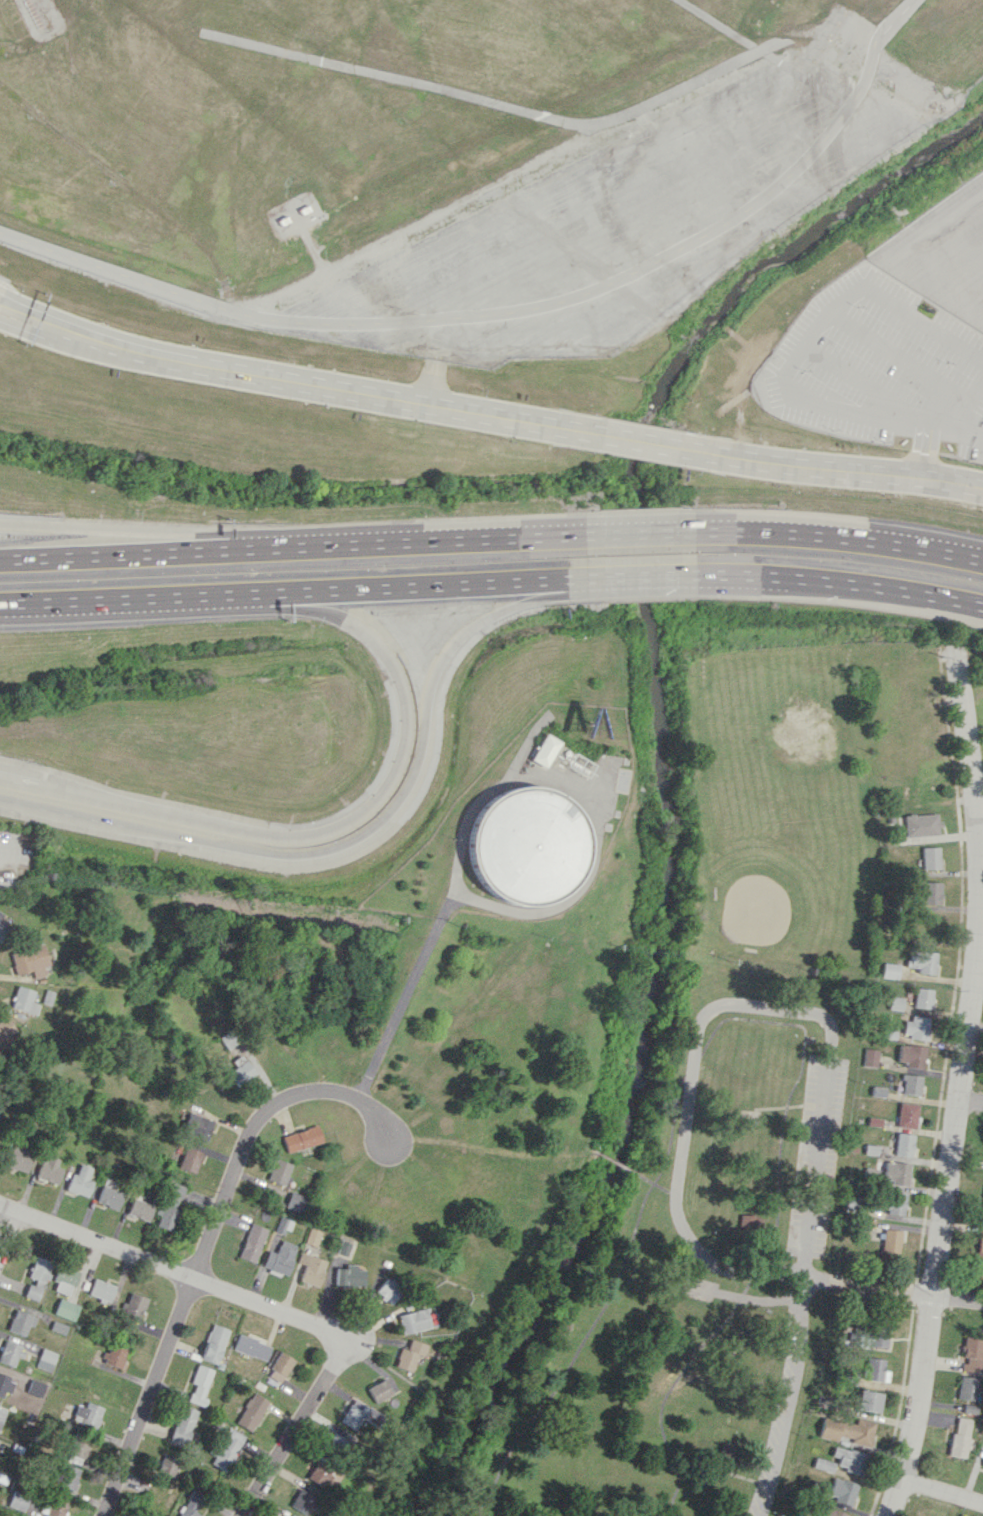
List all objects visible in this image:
road: (714, 26)
road: (49, 34)
road: (409, 81)
road: (128, 186)
road: (496, 188)
airport: (517, 230)
road: (576, 250)
road: (578, 295)
road: (2, 304)
road: (2, 306)
road: (904, 311)
road: (437, 337)
road: (800, 348)
parking lot: (876, 366)
road: (852, 375)
road: (299, 381)
road: (431, 381)
road: (975, 388)
road: (927, 418)
road: (950, 424)
road: (978, 432)
road: (639, 440)
parking lot: (976, 444)
road: (829, 468)
road: (135, 529)
road: (638, 533)
road: (830, 537)
road: (435, 540)
road: (135, 553)
road: (639, 575)
road: (831, 581)
road: (415, 585)
road: (114, 598)
road: (523, 742)
building: (543, 750)
road: (412, 769)
road: (23, 783)
road: (585, 801)
road: (368, 804)
road: (75, 814)
building: (920, 824)
road: (980, 831)
building: (525, 841)
storage tank: (525, 841)
road: (2, 846)
building: (929, 857)
building: (928, 892)
building: (0, 914)
building: (2, 930)
building: (29, 960)
building: (921, 961)
building: (889, 970)
road: (974, 970)
road: (403, 994)
building: (922, 998)
building: (23, 1000)
road: (750, 1019)
building: (915, 1027)
building: (5, 1029)
building: (911, 1055)
building: (869, 1057)
building: (238, 1069)
building: (910, 1084)
road: (825, 1097)
road: (970, 1099)
building: (907, 1115)
park: (693, 1123)
building: (197, 1127)
building: (301, 1138)
building: (903, 1144)
building: (19, 1157)
building: (189, 1159)
road: (621, 1167)
building: (48, 1169)
building: (278, 1171)
building: (895, 1172)
road: (678, 1173)
building: (79, 1181)
road: (653, 1182)
building: (109, 1197)
building: (294, 1201)
building: (893, 1202)
building: (852, 1203)
building: (980, 1205)
building: (169, 1206)
building: (139, 1208)
building: (282, 1225)
road: (8, 1231)
building: (312, 1236)
building: (886, 1239)
building: (251, 1242)
road: (205, 1244)
building: (980, 1246)
building: (342, 1247)
building: (279, 1257)
building: (310, 1268)
road: (170, 1269)
building: (349, 1275)
road: (804, 1275)
building: (36, 1278)
building: (64, 1280)
road: (868, 1285)
building: (100, 1290)
building: (388, 1290)
road: (958, 1296)
building: (134, 1305)
building: (65, 1309)
building: (413, 1320)
building: (20, 1322)
road: (364, 1335)
building: (873, 1335)
building: (213, 1343)
building: (251, 1347)
building: (9, 1353)
building: (972, 1353)
building: (114, 1354)
building: (410, 1355)
building: (45, 1359)
building: (281, 1363)
building: (875, 1369)
building: (274, 1375)
building: (199, 1384)
building: (4, 1385)
building: (35, 1387)
building: (967, 1387)
building: (379, 1390)
road: (786, 1398)
building: (866, 1400)
road: (917, 1405)
building: (251, 1411)
building: (356, 1413)
building: (1, 1414)
building: (85, 1414)
building: (182, 1425)
road: (291, 1431)
building: (848, 1431)
building: (959, 1436)
building: (338, 1440)
building: (76, 1449)
building: (227, 1449)
building: (728, 1452)
building: (848, 1459)
building: (982, 1463)
building: (166, 1464)
building: (321, 1473)
building: (66, 1476)
building: (841, 1490)
road: (942, 1492)
building: (18, 1500)
building: (302, 1502)
building: (190, 1504)
building: (831, 1512)
building: (289, 1514)

